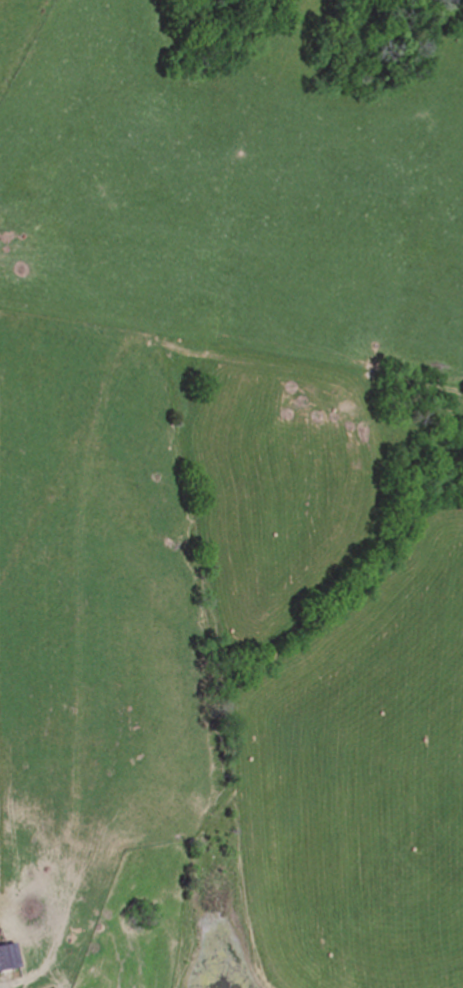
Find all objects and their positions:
building: (7, 956)

